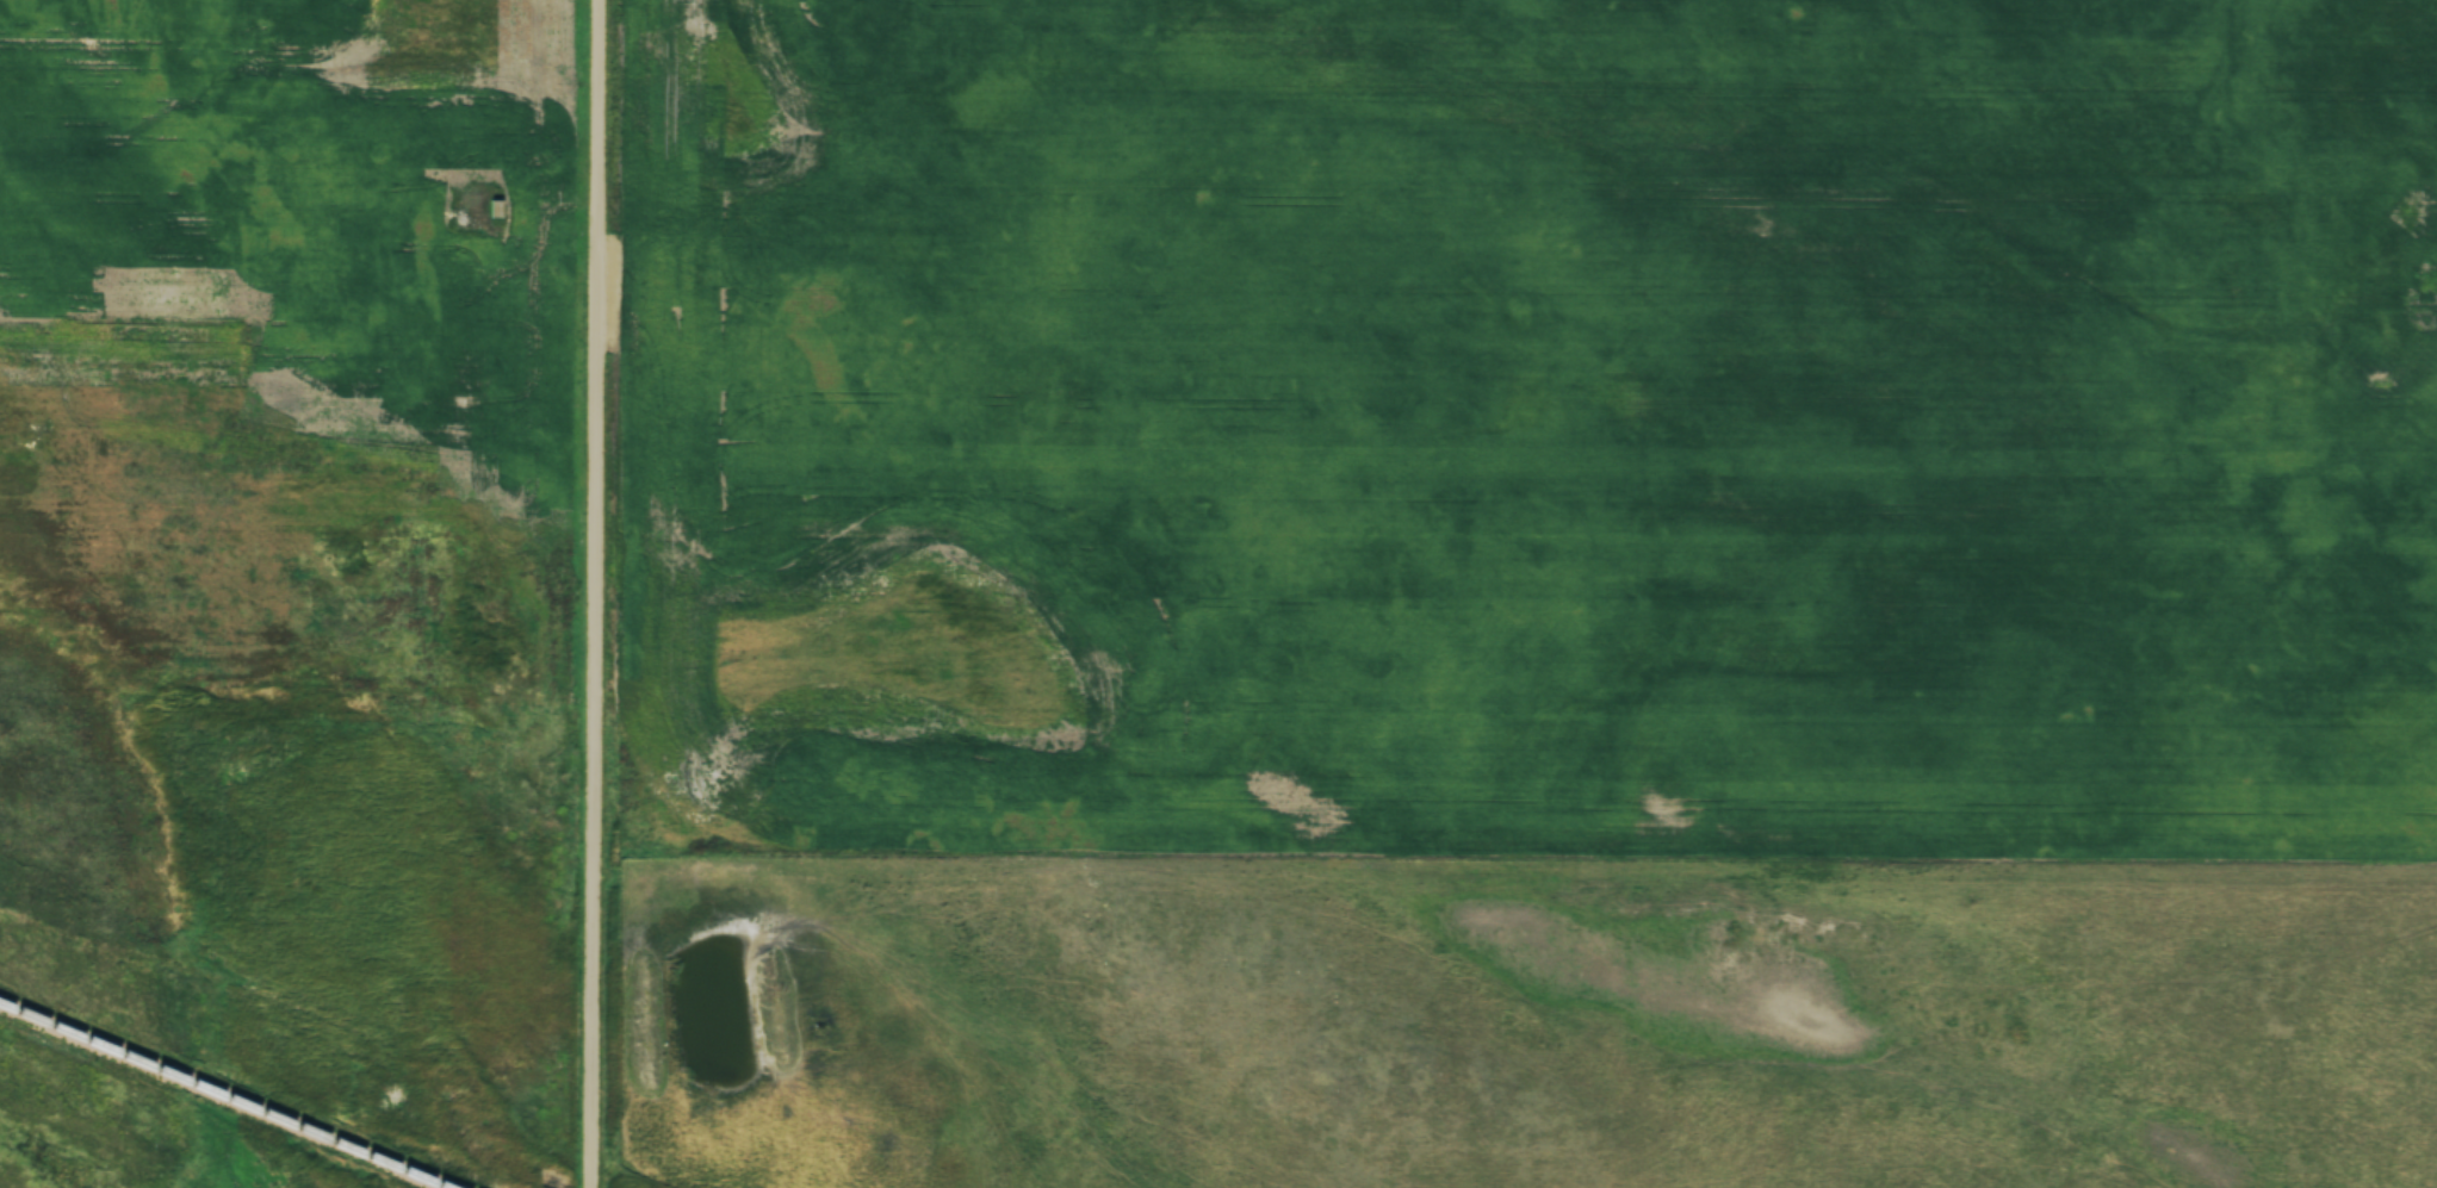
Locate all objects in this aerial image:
building: (497, 207)
road: (594, 593)
railway: (222, 1096)

